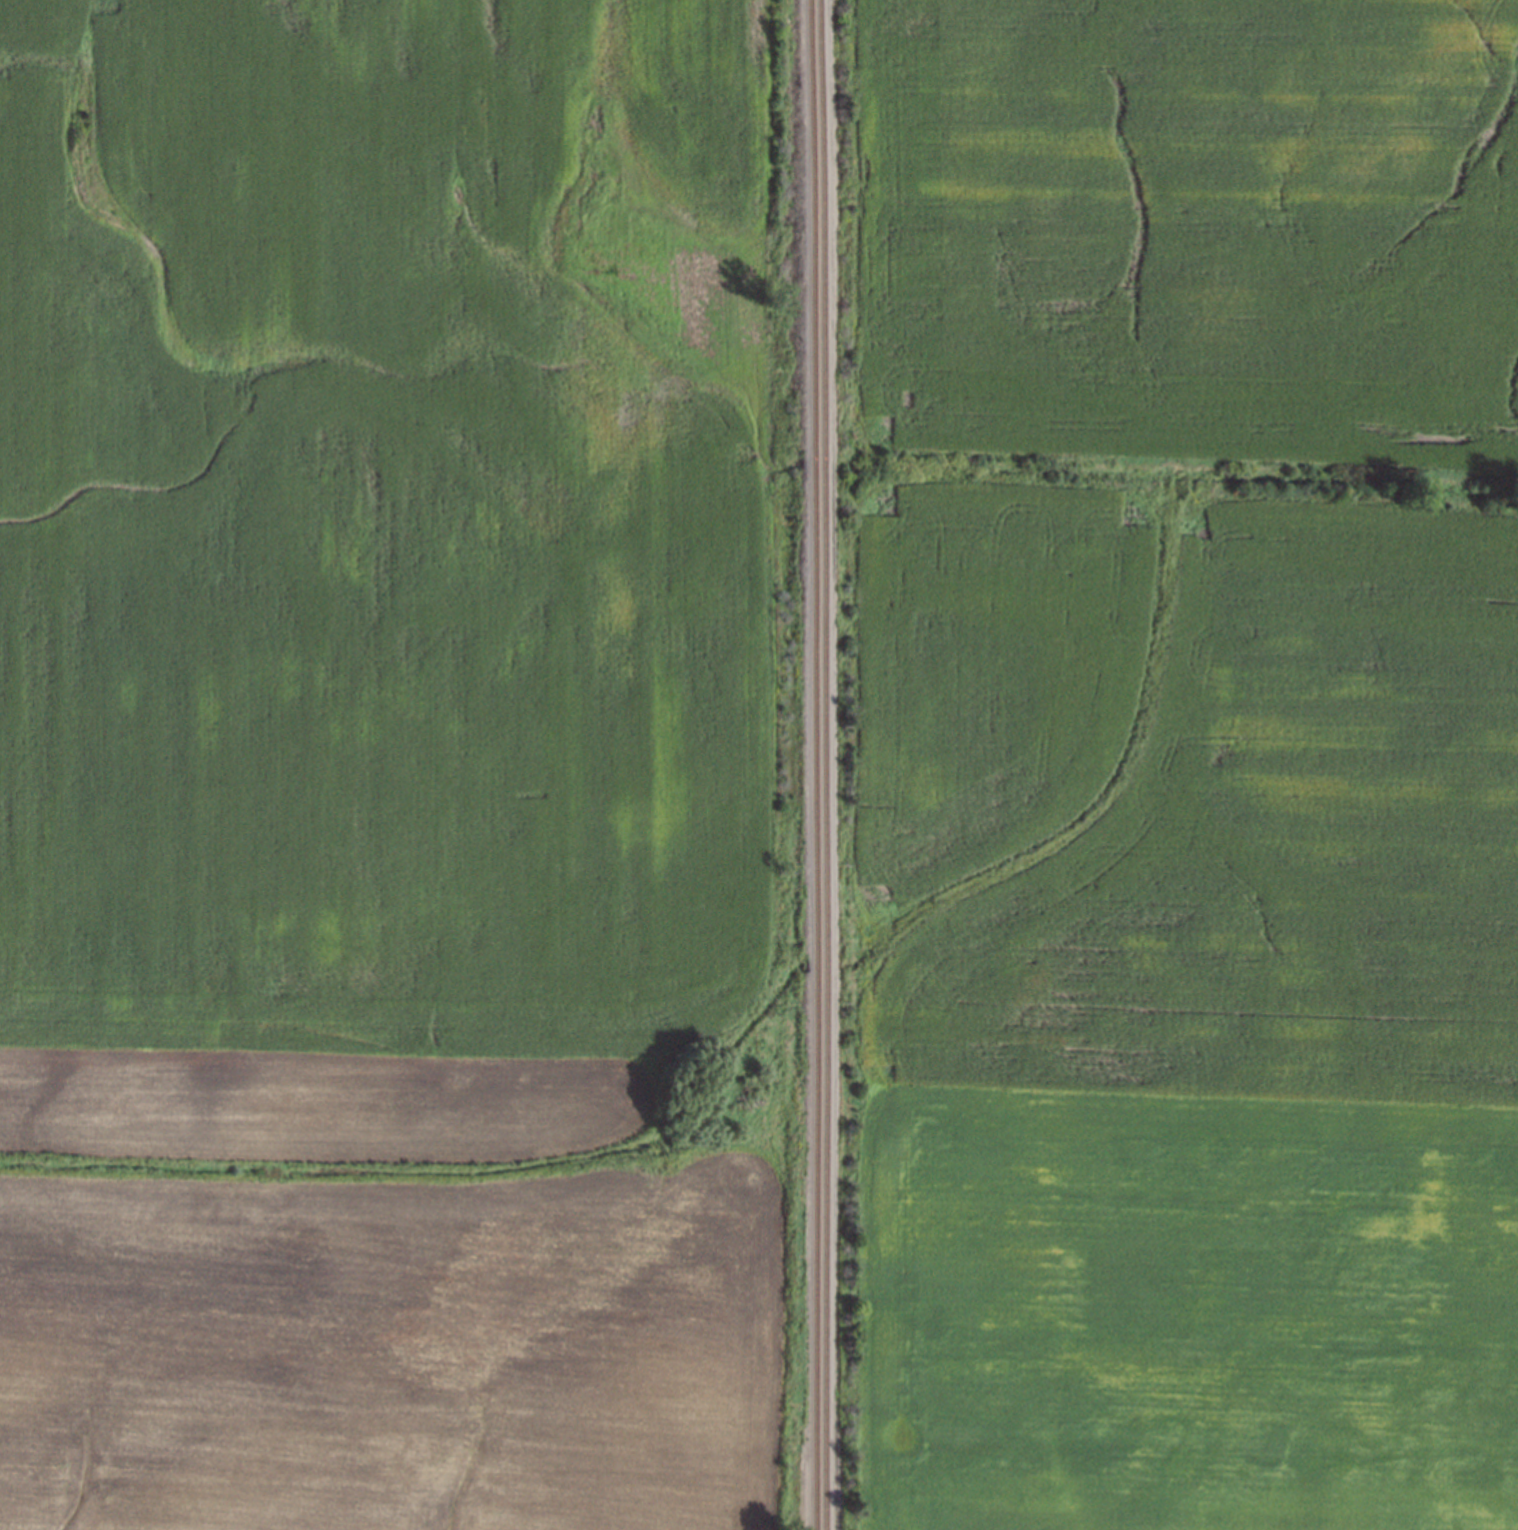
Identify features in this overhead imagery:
crop: (380, 526)
crop: (1190, 763)
railway: (813, 765)
railway: (823, 765)
crop: (313, 1104)
crop: (394, 1355)

